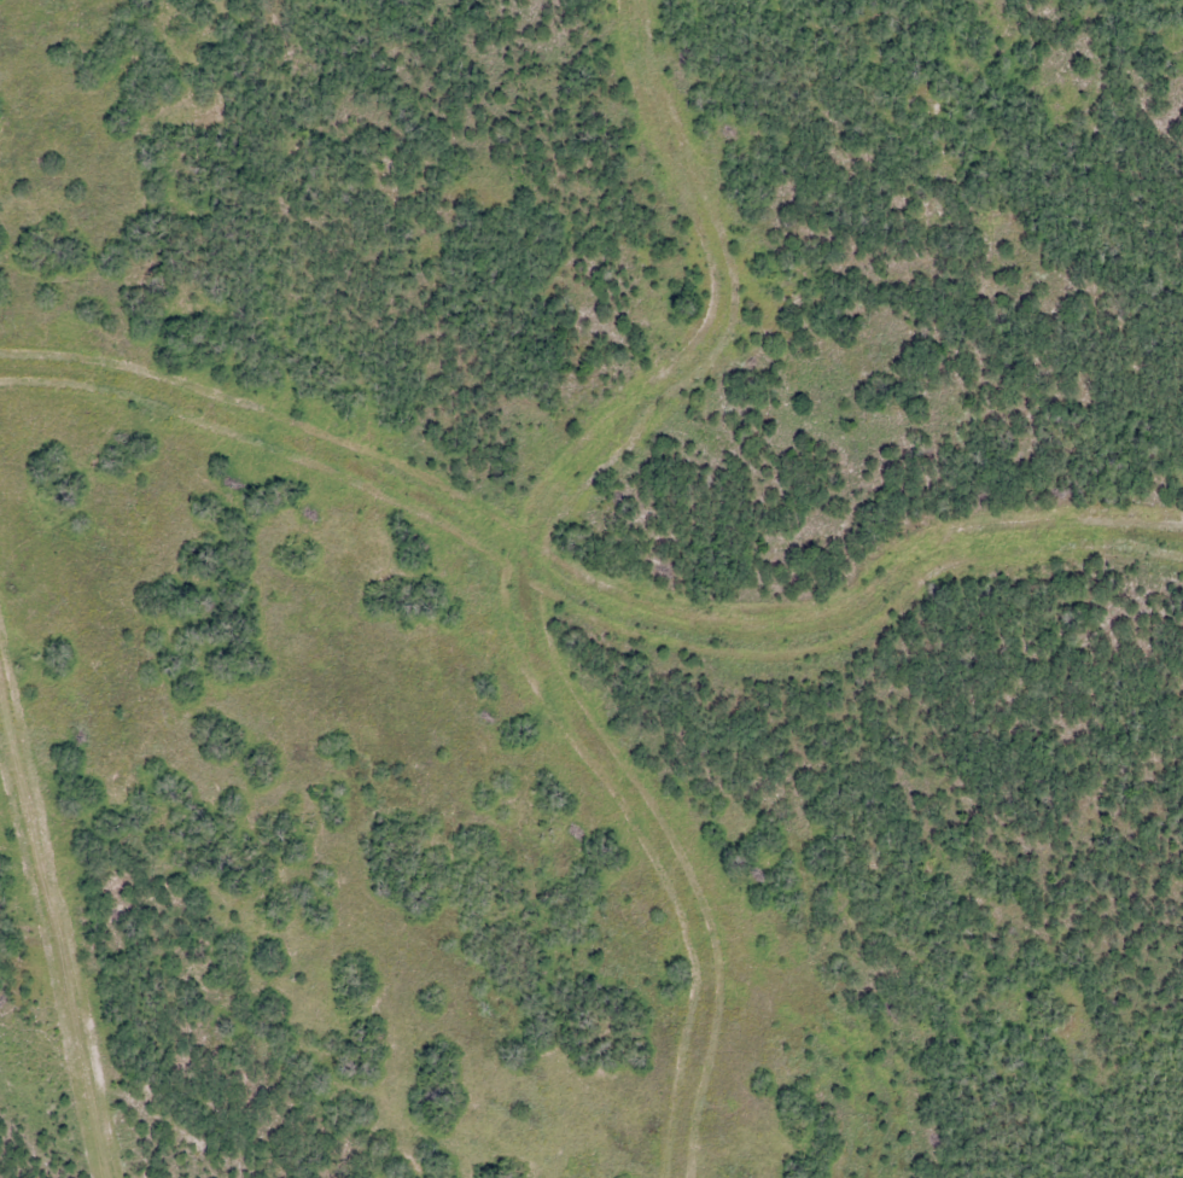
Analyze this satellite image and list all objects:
road: (31, 1042)

